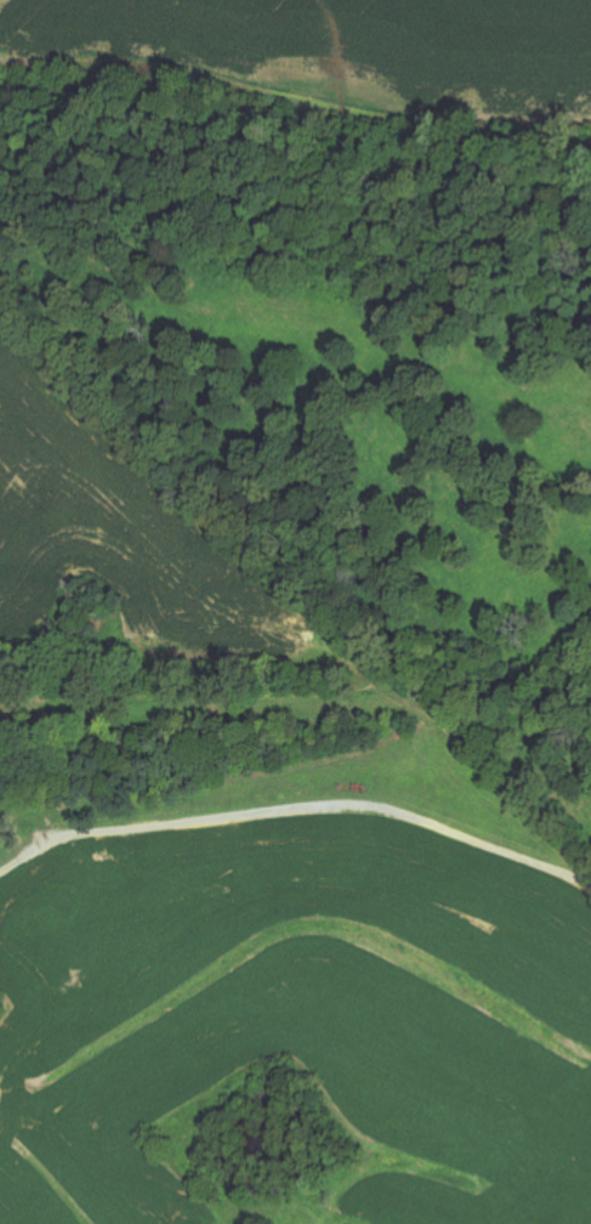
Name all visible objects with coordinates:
road: (299, 795)

